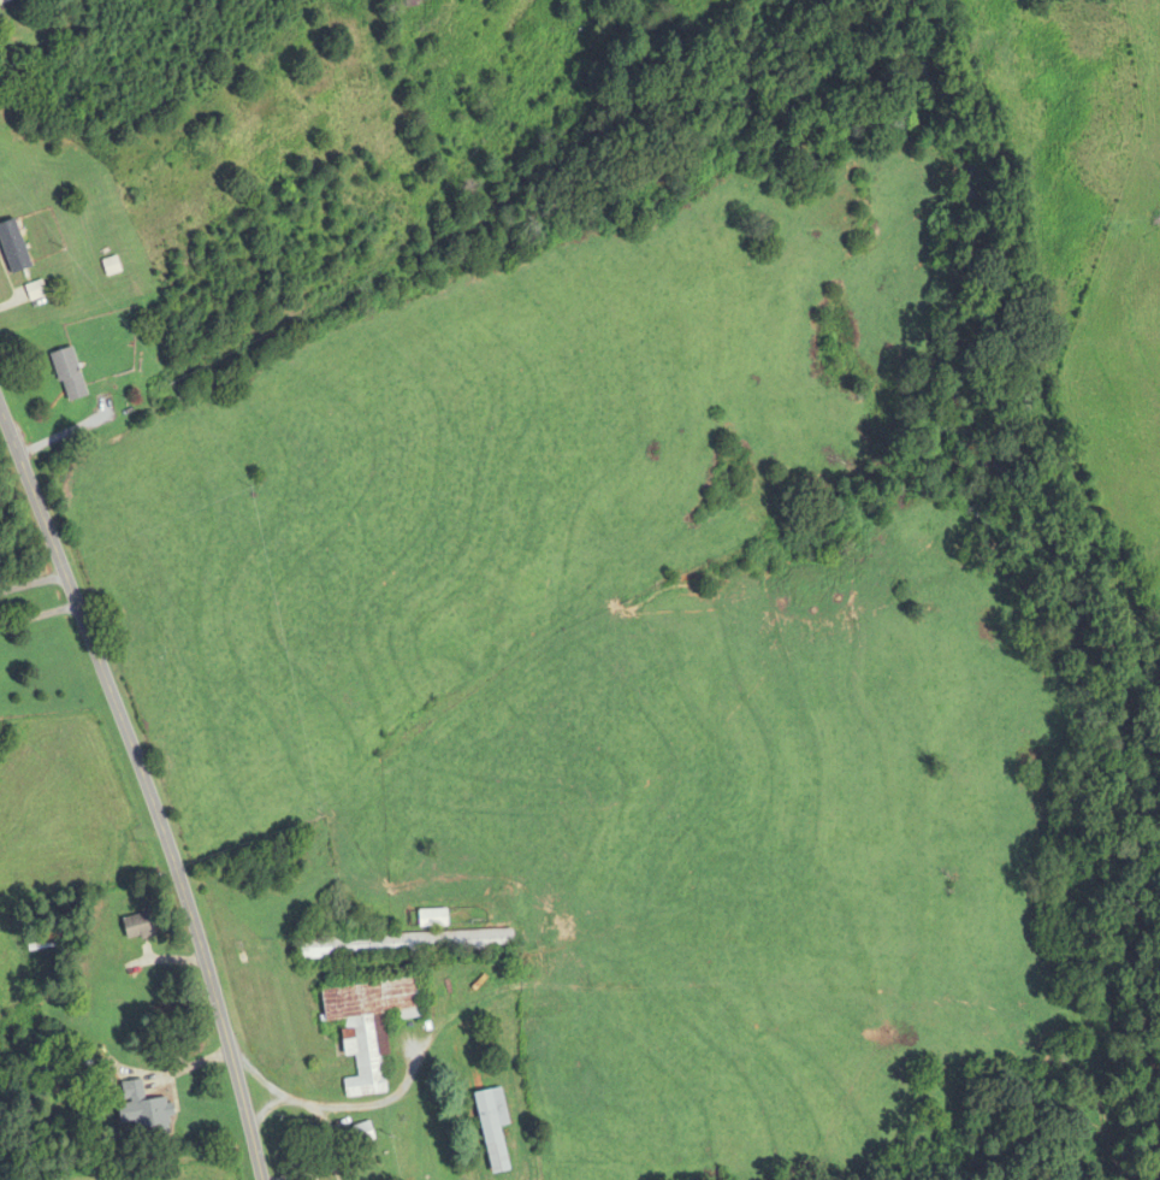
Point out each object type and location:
building: (414, 2)
building: (13, 248)
building: (111, 267)
building: (34, 291)
building: (69, 374)
road: (32, 583)
road: (39, 614)
road: (147, 787)
building: (138, 927)
building: (37, 940)
building: (406, 944)
building: (108, 1011)
building: (367, 1027)
building: (470, 1048)
building: (141, 1108)
building: (492, 1128)

